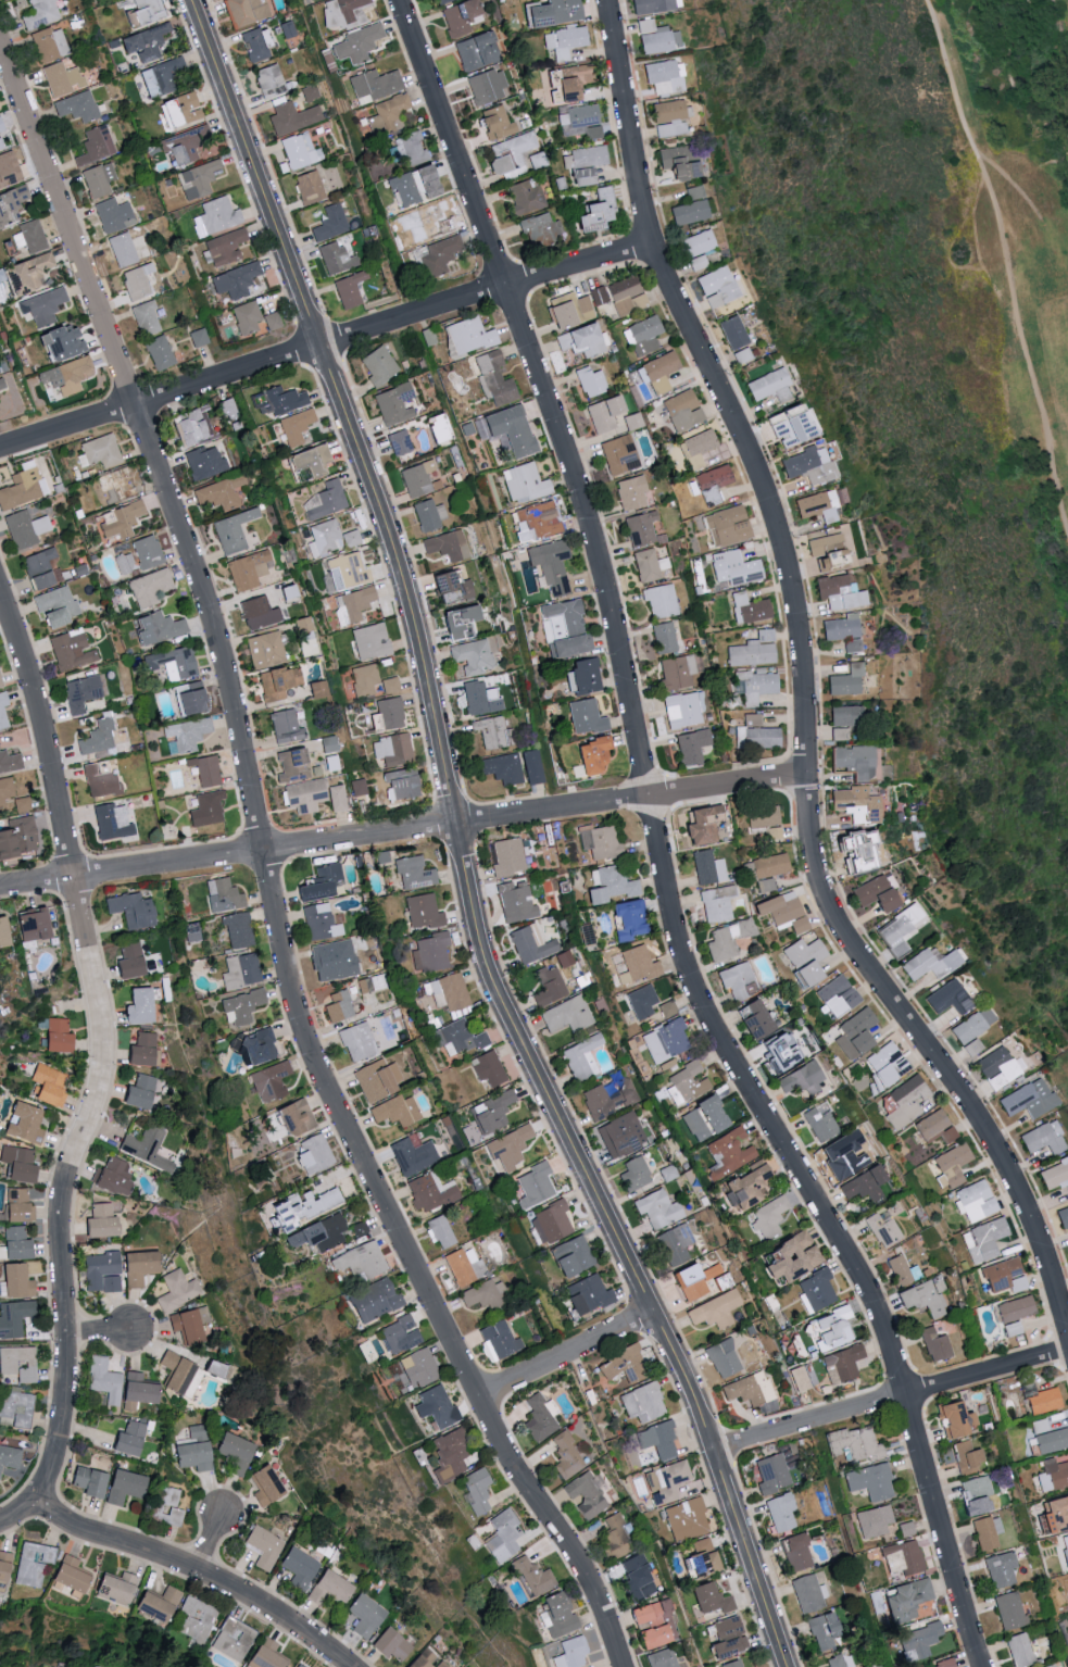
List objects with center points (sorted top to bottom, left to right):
building: (437, 1)
building: (652, 5)
building: (345, 8)
building: (147, 11)
building: (246, 11)
building: (550, 12)
building: (40, 13)
building: (458, 16)
building: (654, 37)
building: (564, 41)
building: (142, 42)
building: (49, 43)
building: (255, 43)
building: (356, 43)
building: (474, 50)
building: (163, 74)
building: (662, 76)
building: (267, 77)
building: (61, 78)
building: (567, 82)
building: (373, 84)
building: (486, 86)
building: (76, 106)
building: (178, 109)
building: (387, 114)
building: (291, 117)
building: (665, 118)
building: (577, 122)
building: (493, 123)
building: (0, 127)
building: (95, 145)
building: (186, 145)
building: (299, 151)
building: (508, 154)
building: (582, 158)
building: (674, 163)
building: (8, 166)
building: (580, 176)
building: (97, 178)
building: (198, 178)
building: (410, 185)
building: (307, 186)
building: (691, 192)
building: (524, 197)
building: (11, 202)
building: (593, 210)
building: (686, 212)
building: (112, 214)
building: (214, 216)
building: (430, 222)
building: (329, 223)
building: (538, 227)
building: (29, 236)
building: (694, 242)
building: (222, 247)
building: (121, 249)
building: (438, 255)
building: (335, 258)
building: (695, 262)
road: (1005, 264)
building: (24, 273)
building: (235, 279)
park: (1009, 279)
building: (136, 281)
building: (715, 286)
building: (348, 289)
building: (599, 294)
building: (625, 294)
building: (41, 305)
building: (567, 310)
building: (244, 316)
building: (143, 318)
building: (271, 321)
building: (731, 331)
building: (467, 335)
building: (642, 336)
building: (198, 337)
building: (581, 340)
building: (58, 341)
road: (324, 341)
building: (158, 352)
building: (741, 355)
building: (377, 365)
building: (658, 372)
building: (64, 374)
building: (493, 378)
park: (941, 380)
building: (589, 381)
building: (1, 384)
building: (768, 386)
building: (278, 399)
building: (393, 403)
building: (227, 408)
building: (679, 410)
building: (602, 413)
building: (631, 421)
building: (789, 425)
building: (294, 426)
building: (187, 427)
building: (435, 428)
building: (506, 429)
building: (398, 442)
building: (698, 447)
building: (98, 451)
building: (617, 454)
building: (204, 462)
building: (806, 465)
building: (417, 478)
building: (523, 482)
building: (115, 485)
building: (708, 485)
building: (22, 486)
building: (219, 492)
building: (630, 492)
building: (816, 505)
building: (428, 514)
building: (539, 518)
building: (121, 521)
building: (727, 526)
building: (24, 527)
building: (639, 528)
building: (231, 530)
building: (328, 538)
building: (445, 544)
building: (827, 549)
building: (146, 551)
building: (550, 564)
building: (648, 565)
building: (37, 567)
building: (733, 568)
building: (248, 569)
building: (348, 569)
building: (440, 581)
building: (149, 587)
building: (462, 590)
building: (838, 592)
building: (659, 601)
building: (352, 604)
building: (54, 606)
building: (747, 609)
building: (257, 613)
building: (457, 623)
building: (156, 627)
building: (563, 629)
building: (842, 631)
building: (663, 638)
building: (369, 641)
building: (70, 649)
building: (263, 650)
building: (753, 650)
building: (472, 656)
building: (172, 663)
building: (676, 672)
building: (582, 675)
building: (363, 679)
road: (804, 679)
building: (844, 680)
building: (276, 682)
building: (0, 684)
building: (389, 685)
building: (754, 685)
building: (317, 689)
building: (80, 692)
building: (479, 698)
building: (189, 699)
building: (2, 710)
building: (683, 710)
building: (389, 713)
building: (585, 716)
building: (844, 717)
building: (752, 720)
building: (373, 722)
building: (285, 726)
building: (490, 731)
building: (184, 735)
building: (96, 737)
building: (756, 737)
building: (690, 747)
building: (391, 750)
building: (590, 754)
building: (9, 761)
building: (853, 761)
building: (291, 765)
building: (531, 766)
building: (502, 767)
building: (204, 769)
building: (97, 781)
building: (400, 784)
building: (356, 787)
building: (4, 790)
building: (304, 795)
building: (336, 798)
building: (21, 804)
building: (854, 804)
building: (205, 809)
building: (110, 822)
building: (764, 823)
building: (701, 825)
road: (402, 829)
building: (17, 838)
building: (598, 841)
road: (458, 844)
road: (658, 847)
building: (858, 850)
building: (507, 856)
building: (769, 865)
building: (707, 867)
road: (267, 874)
building: (412, 874)
building: (765, 885)
building: (607, 886)
building: (222, 894)
building: (872, 894)
building: (716, 903)
building: (516, 904)
building: (130, 910)
building: (422, 912)
building: (781, 912)
building: (627, 919)
building: (318, 922)
building: (30, 925)
building: (236, 930)
building: (897, 930)
building: (2, 935)
building: (727, 939)
building: (530, 944)
building: (429, 952)
building: (564, 958)
building: (803, 960)
building: (128, 961)
building: (324, 961)
building: (928, 964)
building: (632, 965)
building: (239, 972)
building: (737, 980)
building: (549, 986)
building: (449, 992)
building: (837, 995)
building: (946, 999)
building: (640, 1002)
building: (136, 1006)
building: (239, 1006)
building: (337, 1006)
building: (666, 1008)
building: (567, 1015)
building: (752, 1020)
building: (969, 1026)
building: (854, 1033)
building: (55, 1036)
building: (458, 1038)
building: (356, 1041)
building: (665, 1041)
road: (103, 1043)
building: (256, 1046)
building: (970, 1048)
building: (139, 1051)
building: (779, 1051)
building: (582, 1057)
building: (887, 1064)
building: (996, 1068)
building: (488, 1069)
building: (376, 1079)
building: (800, 1079)
building: (688, 1080)
building: (268, 1081)
building: (48, 1085)
building: (137, 1092)
building: (1027, 1099)
building: (607, 1100)
building: (905, 1102)
building: (394, 1111)
building: (492, 1113)
building: (292, 1117)
building: (702, 1118)
building: (24, 1124)
building: (819, 1125)
building: (934, 1127)
building: (620, 1135)
building: (1042, 1139)
building: (507, 1146)
building: (146, 1148)
building: (837, 1151)
building: (726, 1153)
building: (312, 1154)
building: (412, 1156)
building: (16, 1164)
building: (950, 1167)
building: (633, 1175)
building: (1054, 1175)
building: (111, 1177)
building: (532, 1186)
building: (863, 1186)
building: (741, 1189)
building: (429, 1192)
building: (975, 1202)
building: (17, 1206)
building: (300, 1207)
building: (656, 1209)
building: (1061, 1215)
building: (768, 1216)
building: (98, 1221)
building: (882, 1228)
building: (438, 1231)
building: (316, 1233)
building: (983, 1240)
building: (15, 1243)
building: (675, 1244)
building: (569, 1256)
building: (788, 1257)
building: (359, 1261)
building: (464, 1266)
building: (98, 1268)
building: (137, 1268)
building: (902, 1271)
building: (1004, 1277)
building: (693, 1280)
building: (14, 1281)
building: (110, 1283)
building: (176, 1290)
building: (815, 1291)
building: (483, 1295)
building: (586, 1295)
building: (923, 1296)
building: (372, 1301)
building: (1014, 1309)
building: (715, 1311)
building: (12, 1318)
building: (188, 1325)
building: (830, 1328)
building: (1012, 1329)
building: (399, 1334)
road: (100, 1336)
building: (497, 1341)
building: (934, 1345)
road: (565, 1354)
building: (723, 1358)
building: (17, 1363)
building: (843, 1363)
building: (623, 1365)
building: (416, 1367)
building: (213, 1369)
building: (179, 1376)
building: (799, 1379)
building: (101, 1380)
building: (135, 1389)
building: (747, 1390)
road: (890, 1397)
building: (1040, 1399)
building: (642, 1403)
building: (434, 1406)
building: (768, 1407)
building: (15, 1409)
building: (952, 1417)
building: (538, 1418)
building: (1048, 1437)
building: (127, 1440)
building: (658, 1440)
building: (853, 1442)
building: (189, 1451)
building: (231, 1452)
building: (449, 1455)
building: (565, 1456)
building: (966, 1456)
building: (9, 1457)
building: (771, 1472)
building: (1050, 1476)
building: (870, 1480)
building: (666, 1481)
building: (86, 1482)
building: (263, 1486)
building: (121, 1487)
building: (475, 1491)
building: (585, 1494)
building: (973, 1494)
building: (165, 1505)
building: (780, 1512)
road: (21, 1513)
building: (1054, 1514)
building: (684, 1518)
building: (872, 1520)
building: (904, 1528)
building: (985, 1531)
building: (502, 1536)
building: (615, 1536)
road: (209, 1540)
building: (263, 1547)
building: (1064, 1549)
building: (795, 1551)
building: (905, 1554)
building: (701, 1557)
building: (32, 1563)
building: (3, 1565)
building: (297, 1567)
road: (198, 1568)
building: (1000, 1569)
building: (67, 1572)
building: (636, 1576)
building: (532, 1577)
building: (330, 1584)
building: (114, 1587)
building: (807, 1593)
building: (1067, 1593)
building: (708, 1596)
building: (905, 1599)
building: (158, 1603)
building: (1008, 1610)
building: (363, 1614)
building: (556, 1614)
building: (197, 1619)
building: (651, 1621)
building: (1067, 1622)
building: (822, 1630)
building: (726, 1635)
building: (233, 1639)
building: (917, 1641)
building: (388, 1643)
building: (1022, 1649)
building: (569, 1652)
building: (264, 1655)
building: (662, 1658)
building: (425, 1659)
building: (834, 1660)
building: (730, 1664)
building: (943, 1664)
building: (296, 1665)
building: (1053, 1666)

